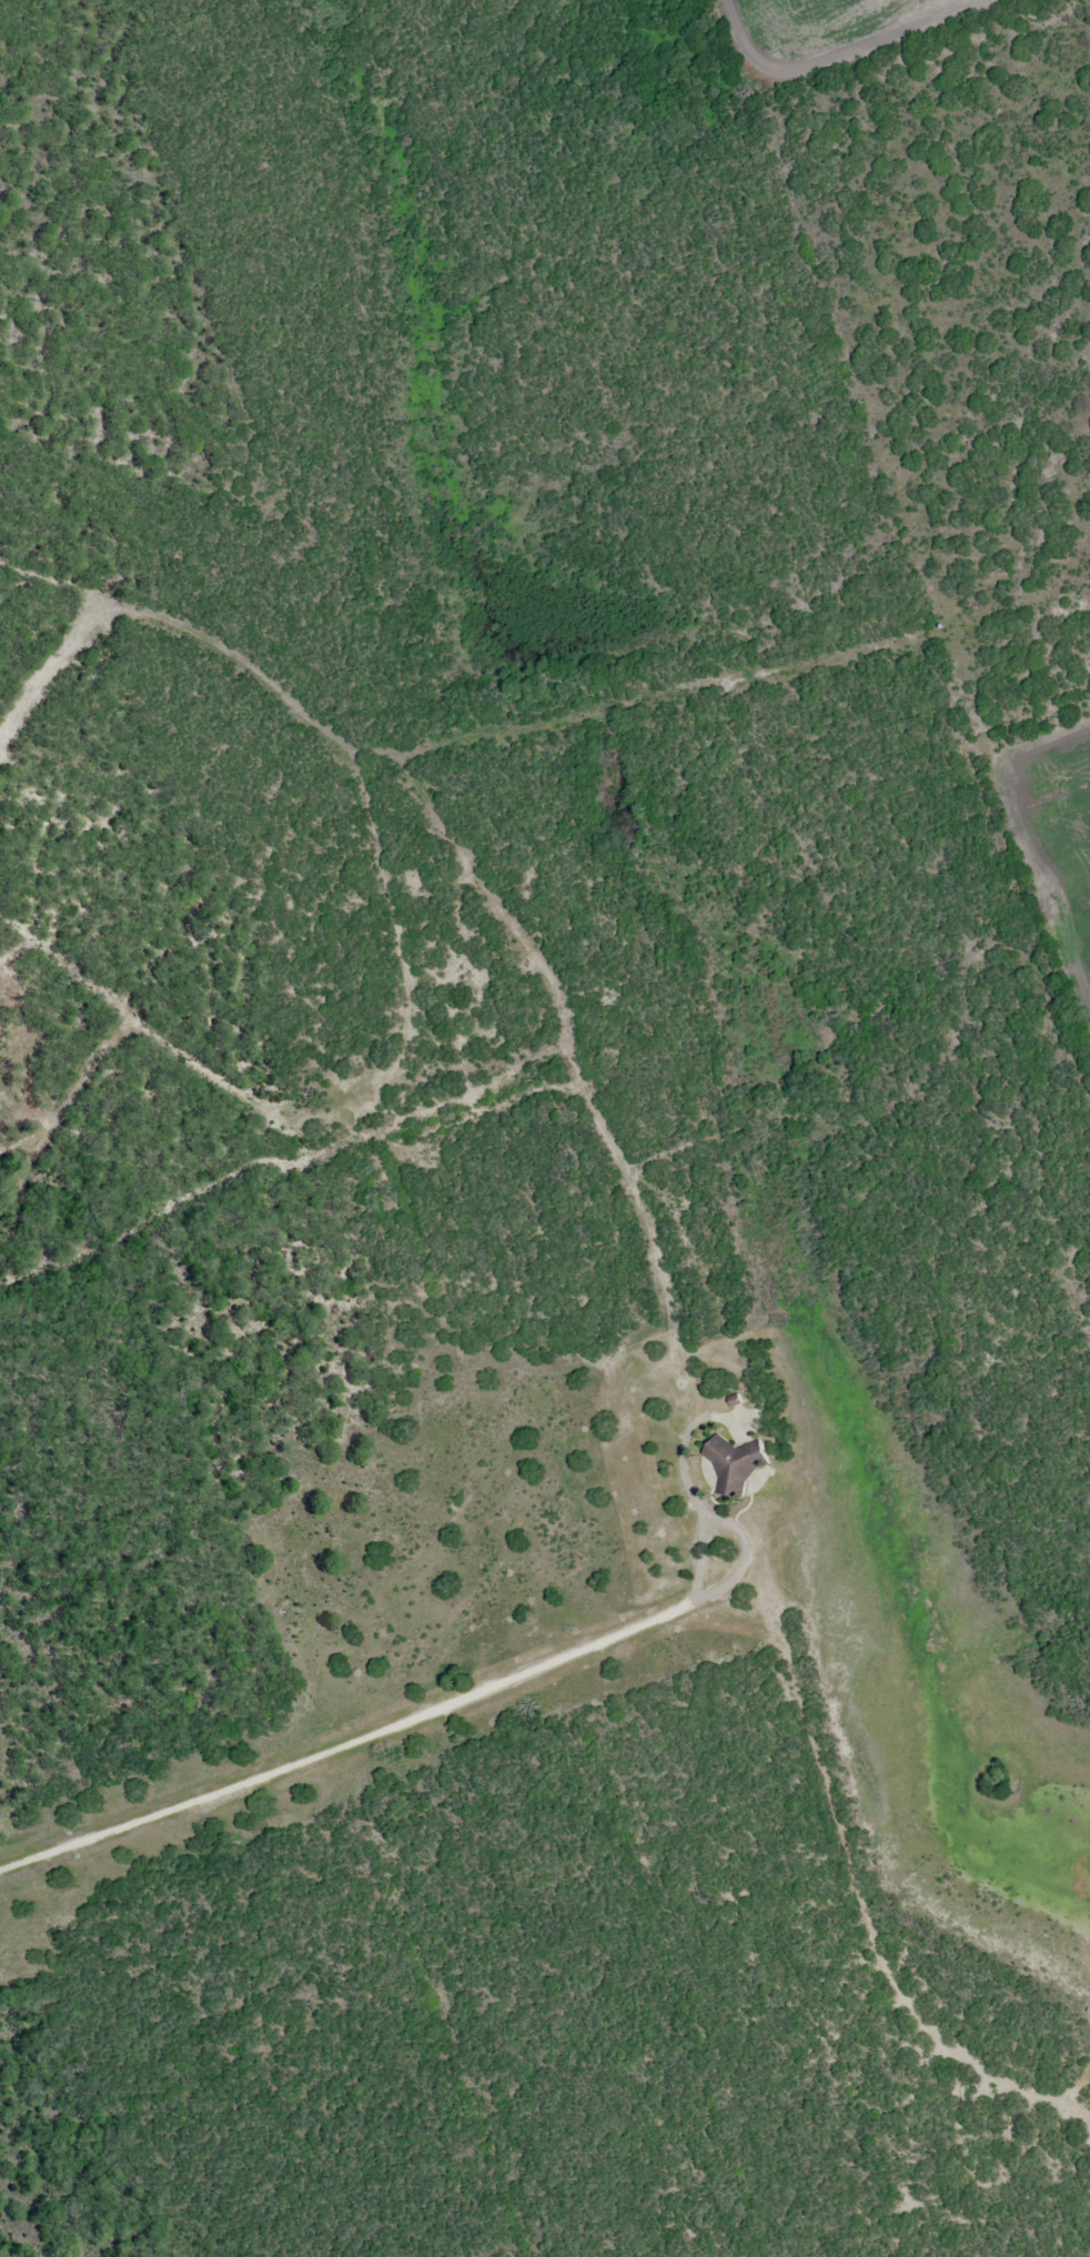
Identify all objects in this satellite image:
road: (826, 59)
building: (728, 1465)
road: (375, 1724)

